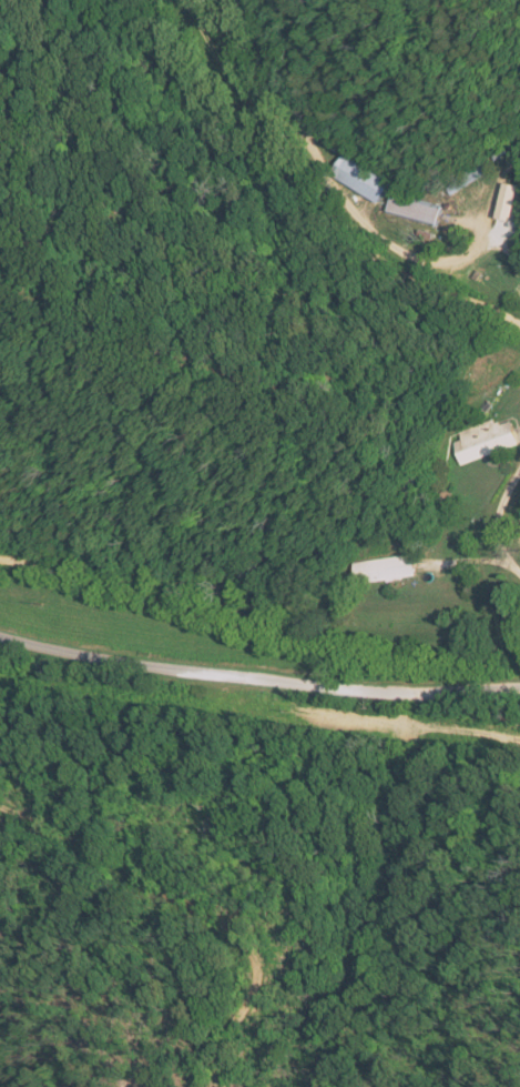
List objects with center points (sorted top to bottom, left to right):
building: (363, 178)
building: (510, 201)
building: (417, 210)
road: (394, 254)
building: (483, 440)
building: (384, 568)
road: (257, 676)

